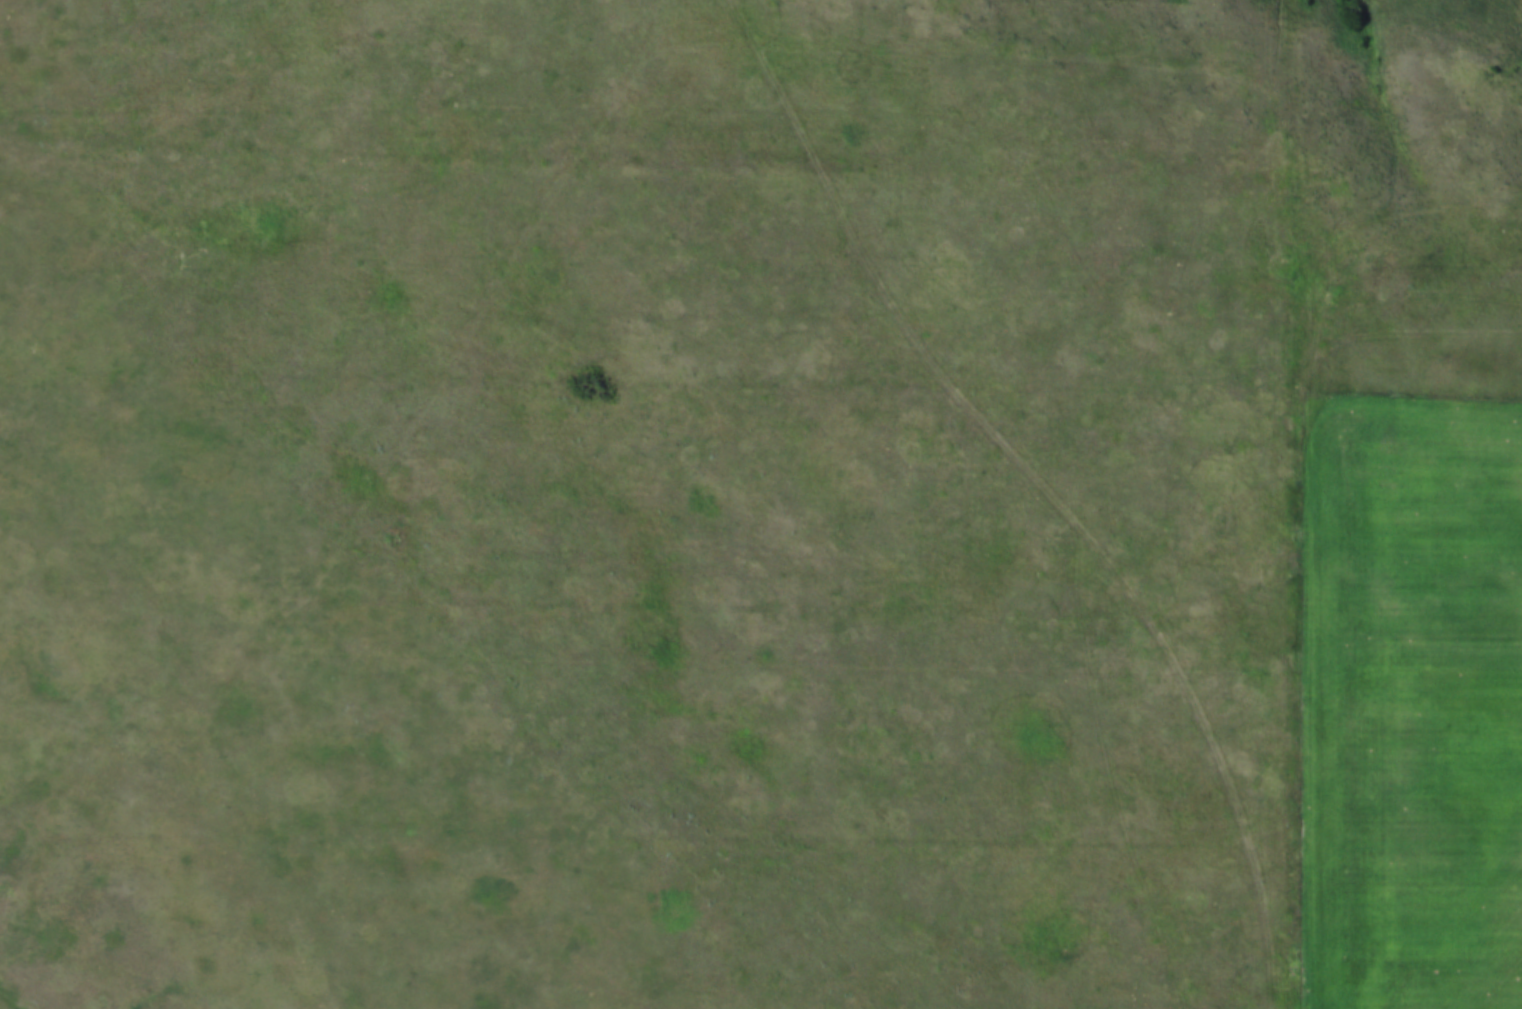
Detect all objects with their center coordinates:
road: (1304, 577)

